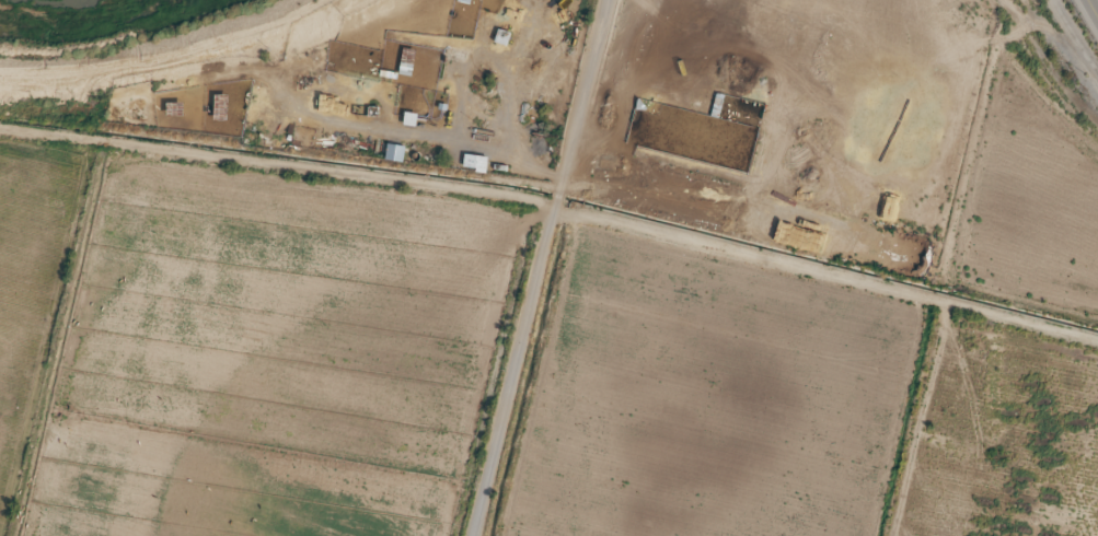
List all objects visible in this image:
road: (1086, 18)

